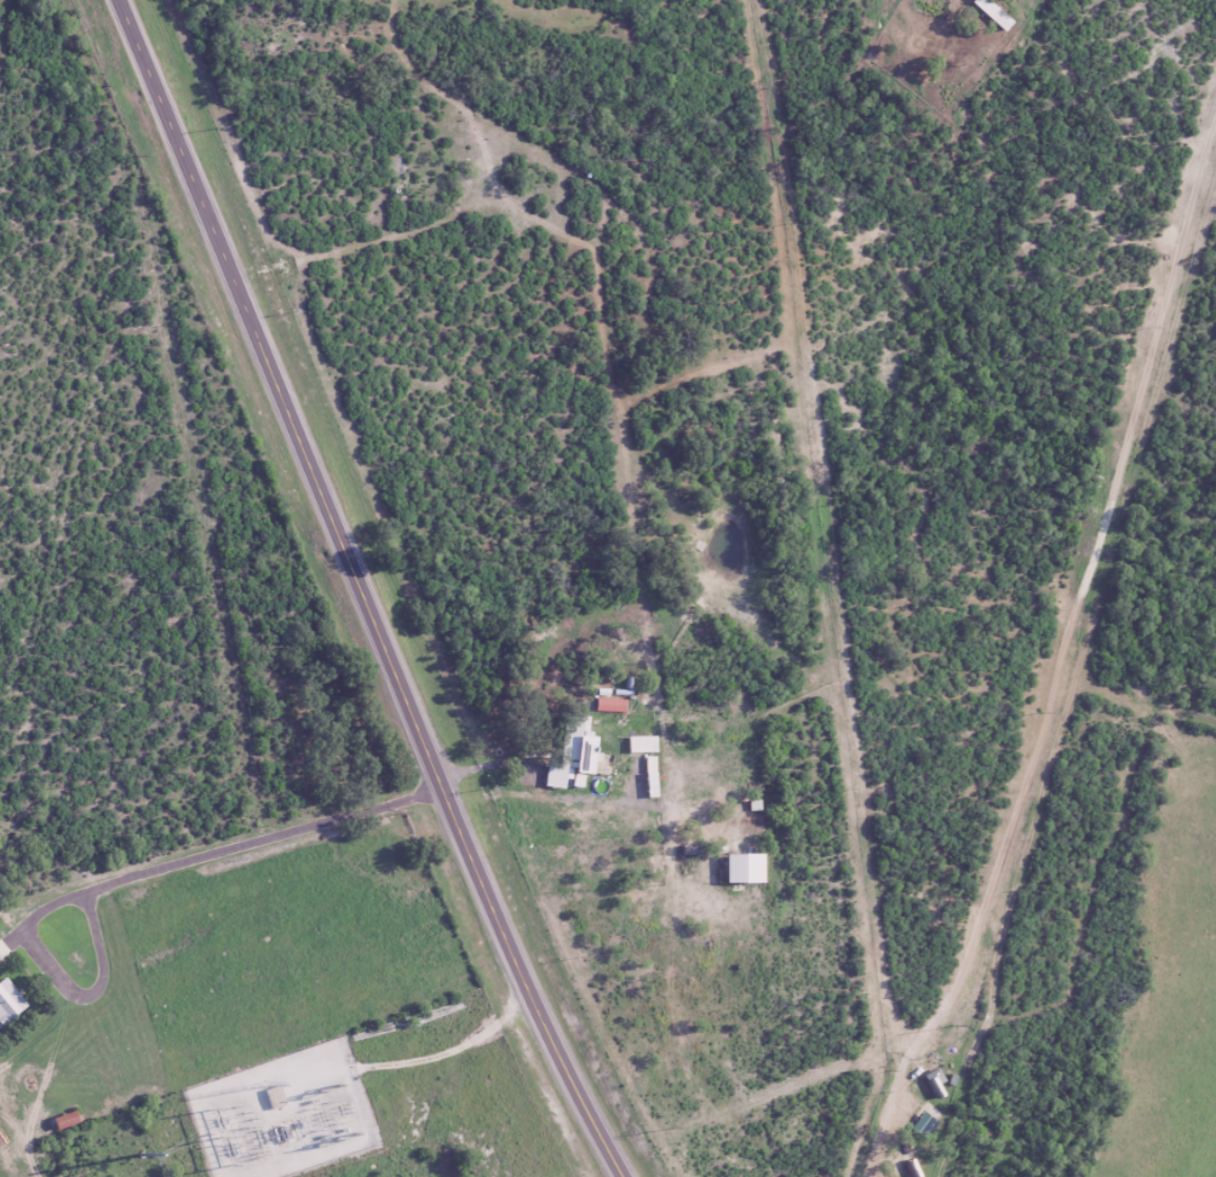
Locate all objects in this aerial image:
power tower: (132, 155)
power tower: (1147, 327)
power tower: (195, 488)
road: (365, 591)
road: (1063, 659)
power tower: (1040, 716)
building: (639, 745)
building: (575, 750)
road: (552, 799)
power tower: (259, 831)
building: (740, 869)
road: (228, 889)
building: (8, 1003)
power tower: (953, 1026)
road: (452, 1051)
power tower: (333, 1089)
building: (276, 1097)
power tower: (310, 1097)
power substation: (283, 1114)
power tower: (216, 1125)
power tower: (665, 1131)
power tower: (348, 1136)
power tower: (326, 1143)
power tower: (225, 1154)
power tower: (139, 1155)

